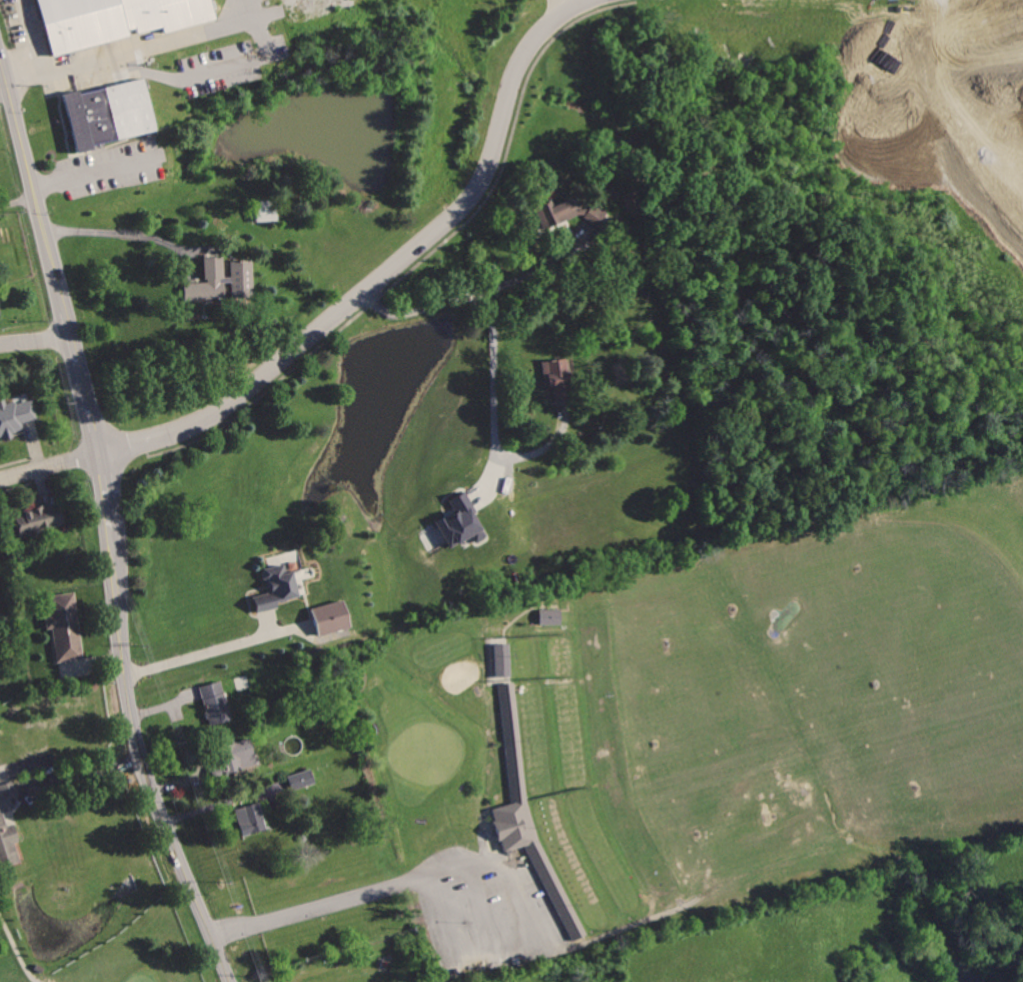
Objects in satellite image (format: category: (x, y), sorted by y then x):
road: (556, 6)
road: (1018, 13)
road: (995, 17)
building: (106, 21)
road: (32, 35)
road: (132, 47)
road: (971, 96)
building: (103, 119)
road: (94, 171)
building: (266, 209)
building: (571, 211)
road: (130, 229)
road: (544, 266)
road: (387, 273)
building: (222, 281)
building: (0, 311)
road: (35, 341)
road: (495, 357)
building: (560, 377)
building: (15, 416)
road: (48, 467)
building: (39, 516)
road: (106, 520)
building: (458, 521)
building: (275, 585)
building: (547, 616)
building: (331, 617)
building: (63, 625)
road: (1, 642)
park: (10, 647)
road: (218, 650)
building: (499, 659)
building: (215, 700)
park: (713, 724)
building: (231, 750)
park: (427, 752)
road: (86, 772)
building: (304, 778)
road: (228, 801)
building: (528, 816)
building: (252, 817)
building: (9, 830)
road: (486, 861)
road: (484, 909)
park: (108, 921)
road: (19, 949)
park: (142, 976)

